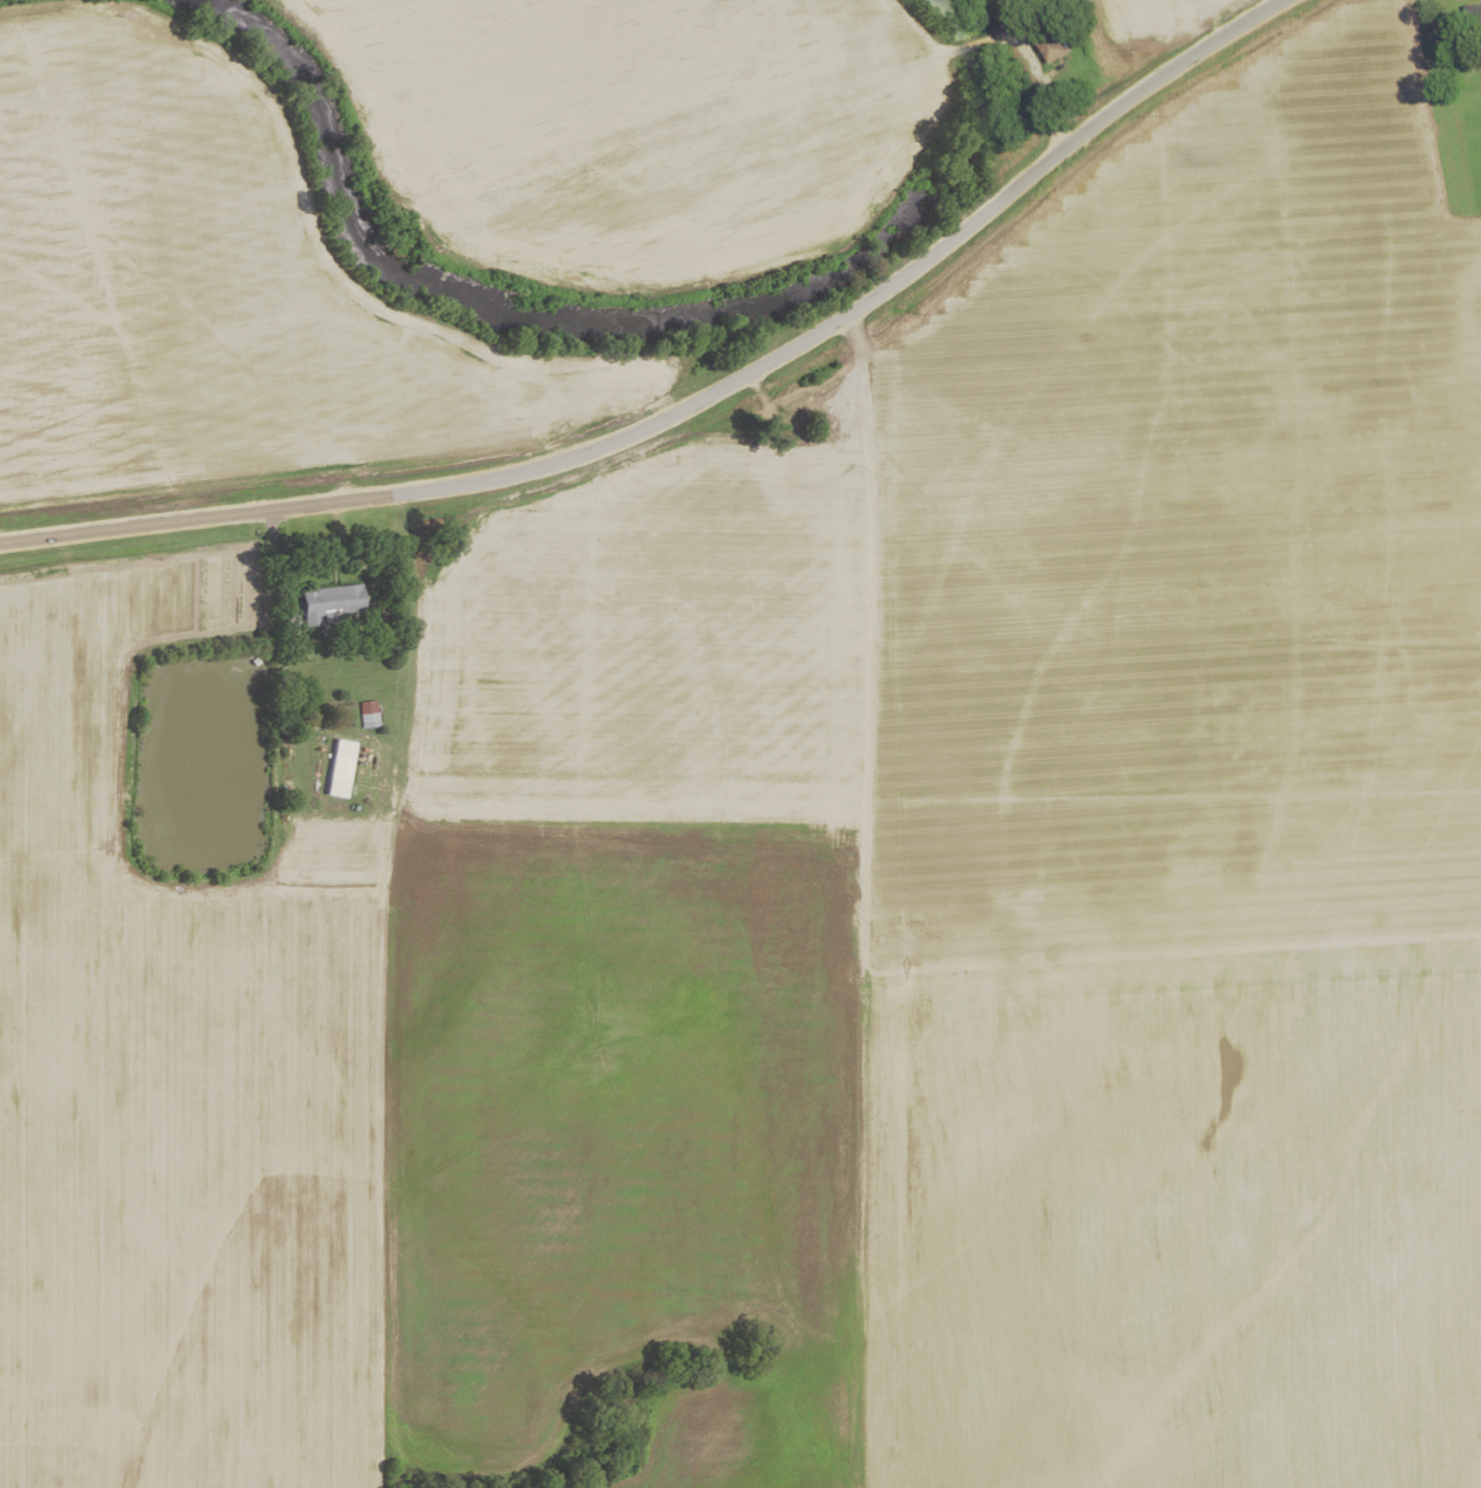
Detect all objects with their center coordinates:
building: (1475, 13)
road: (1006, 32)
building: (1052, 46)
road: (692, 402)
building: (328, 601)
building: (367, 712)
road: (865, 771)

